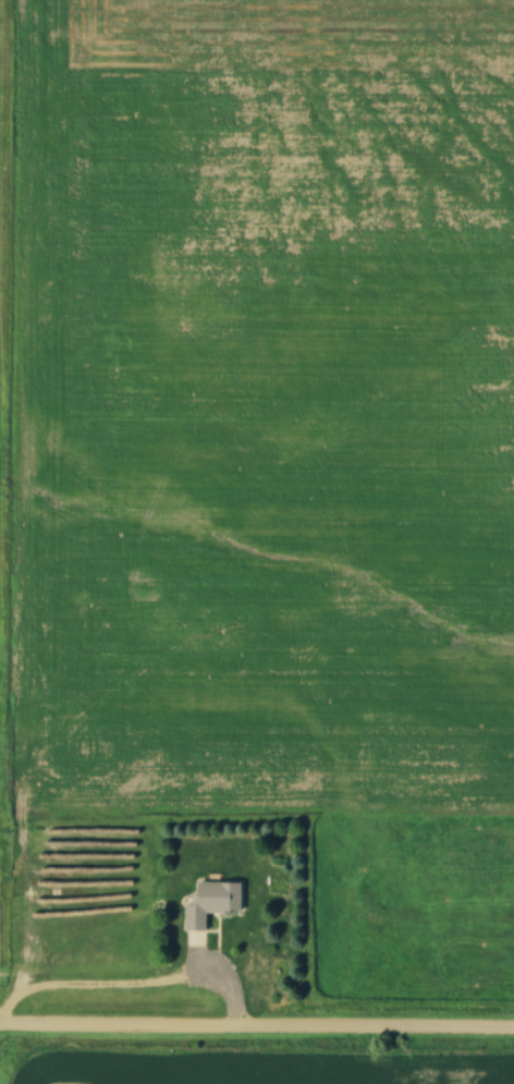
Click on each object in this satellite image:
building: (217, 903)
road: (256, 1024)

